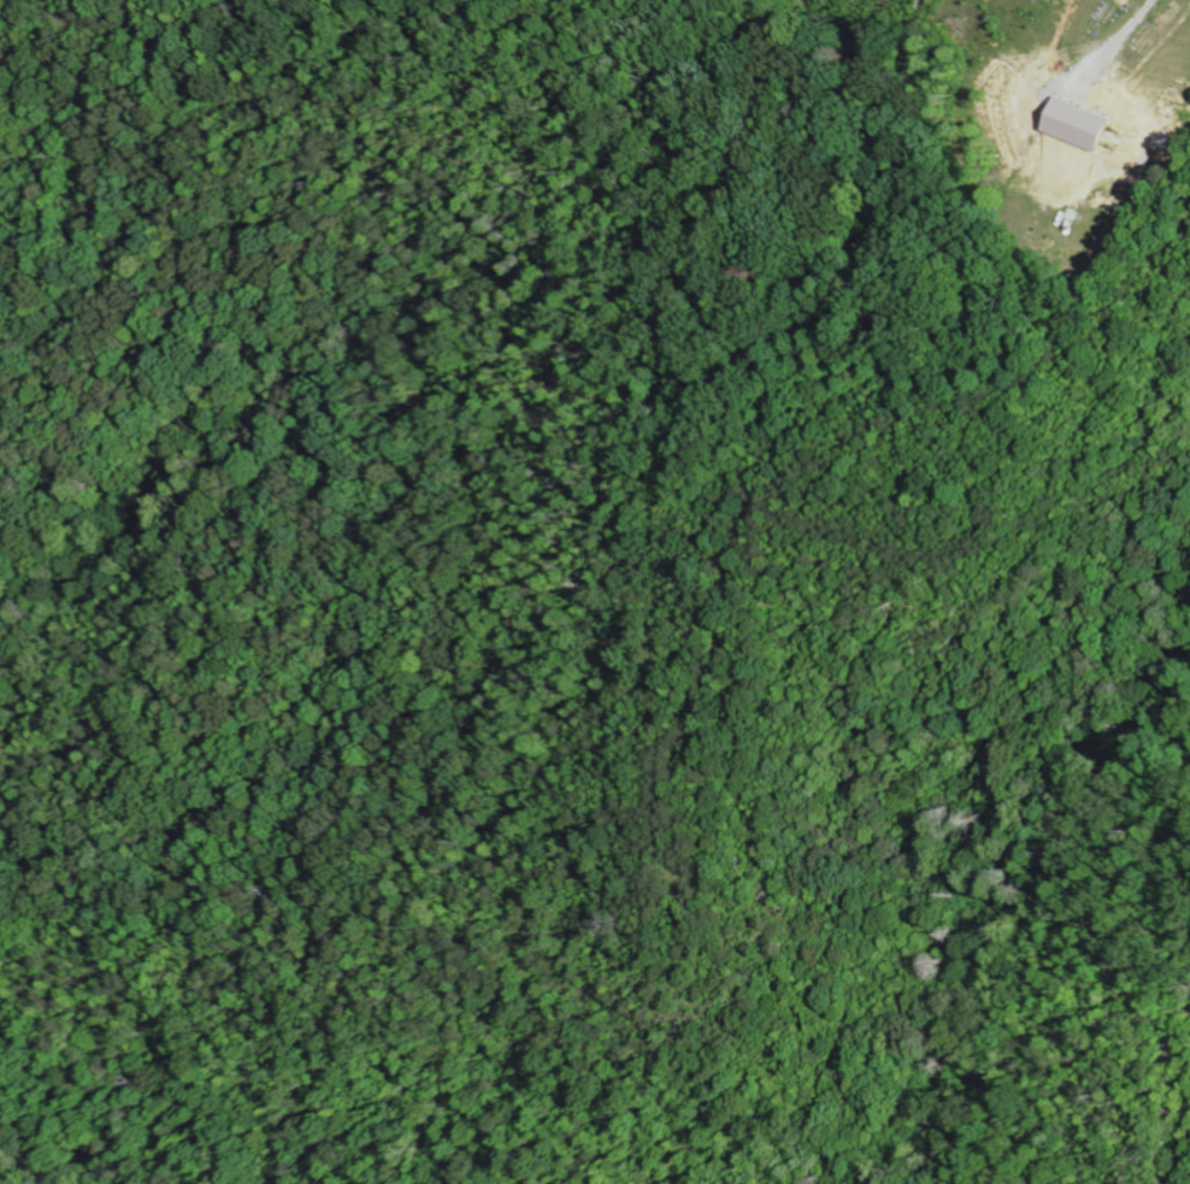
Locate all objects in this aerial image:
building: (1086, 125)

